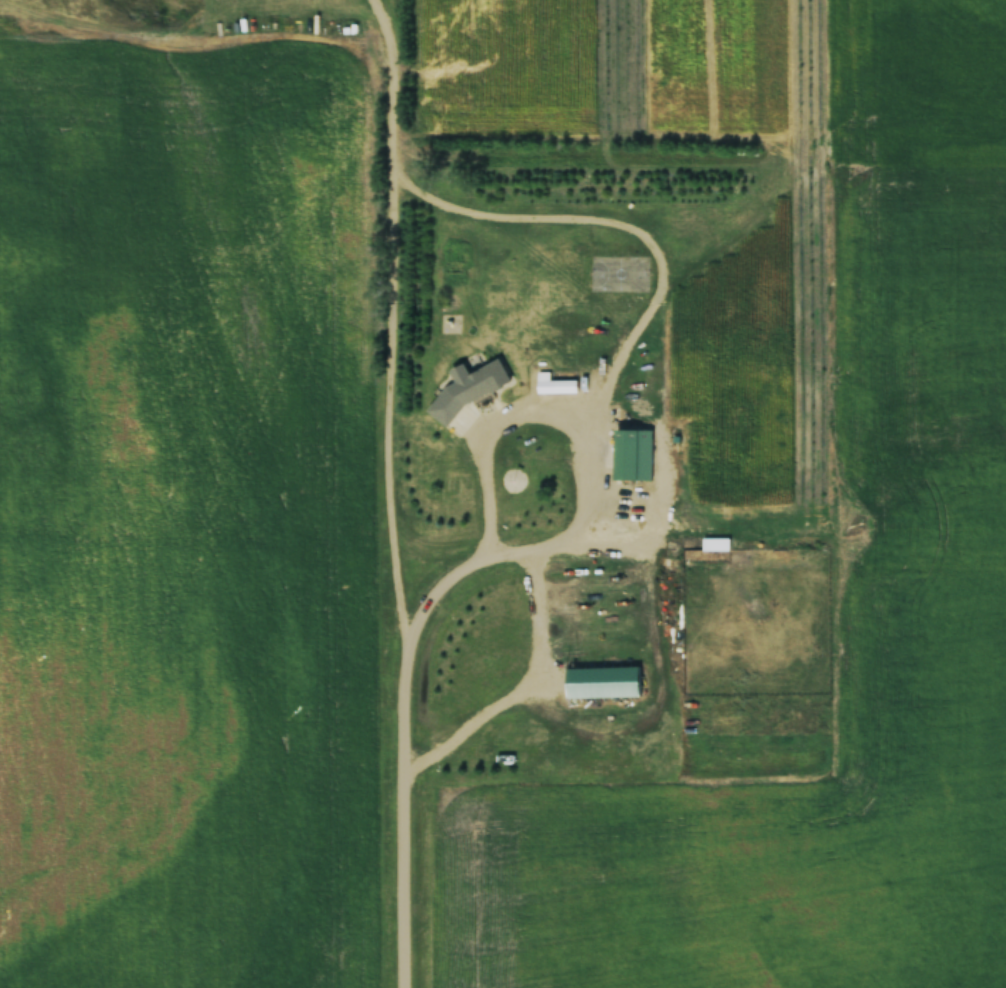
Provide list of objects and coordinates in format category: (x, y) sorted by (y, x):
building: (619, 275)
building: (557, 387)
building: (623, 460)
building: (515, 468)
building: (603, 683)

